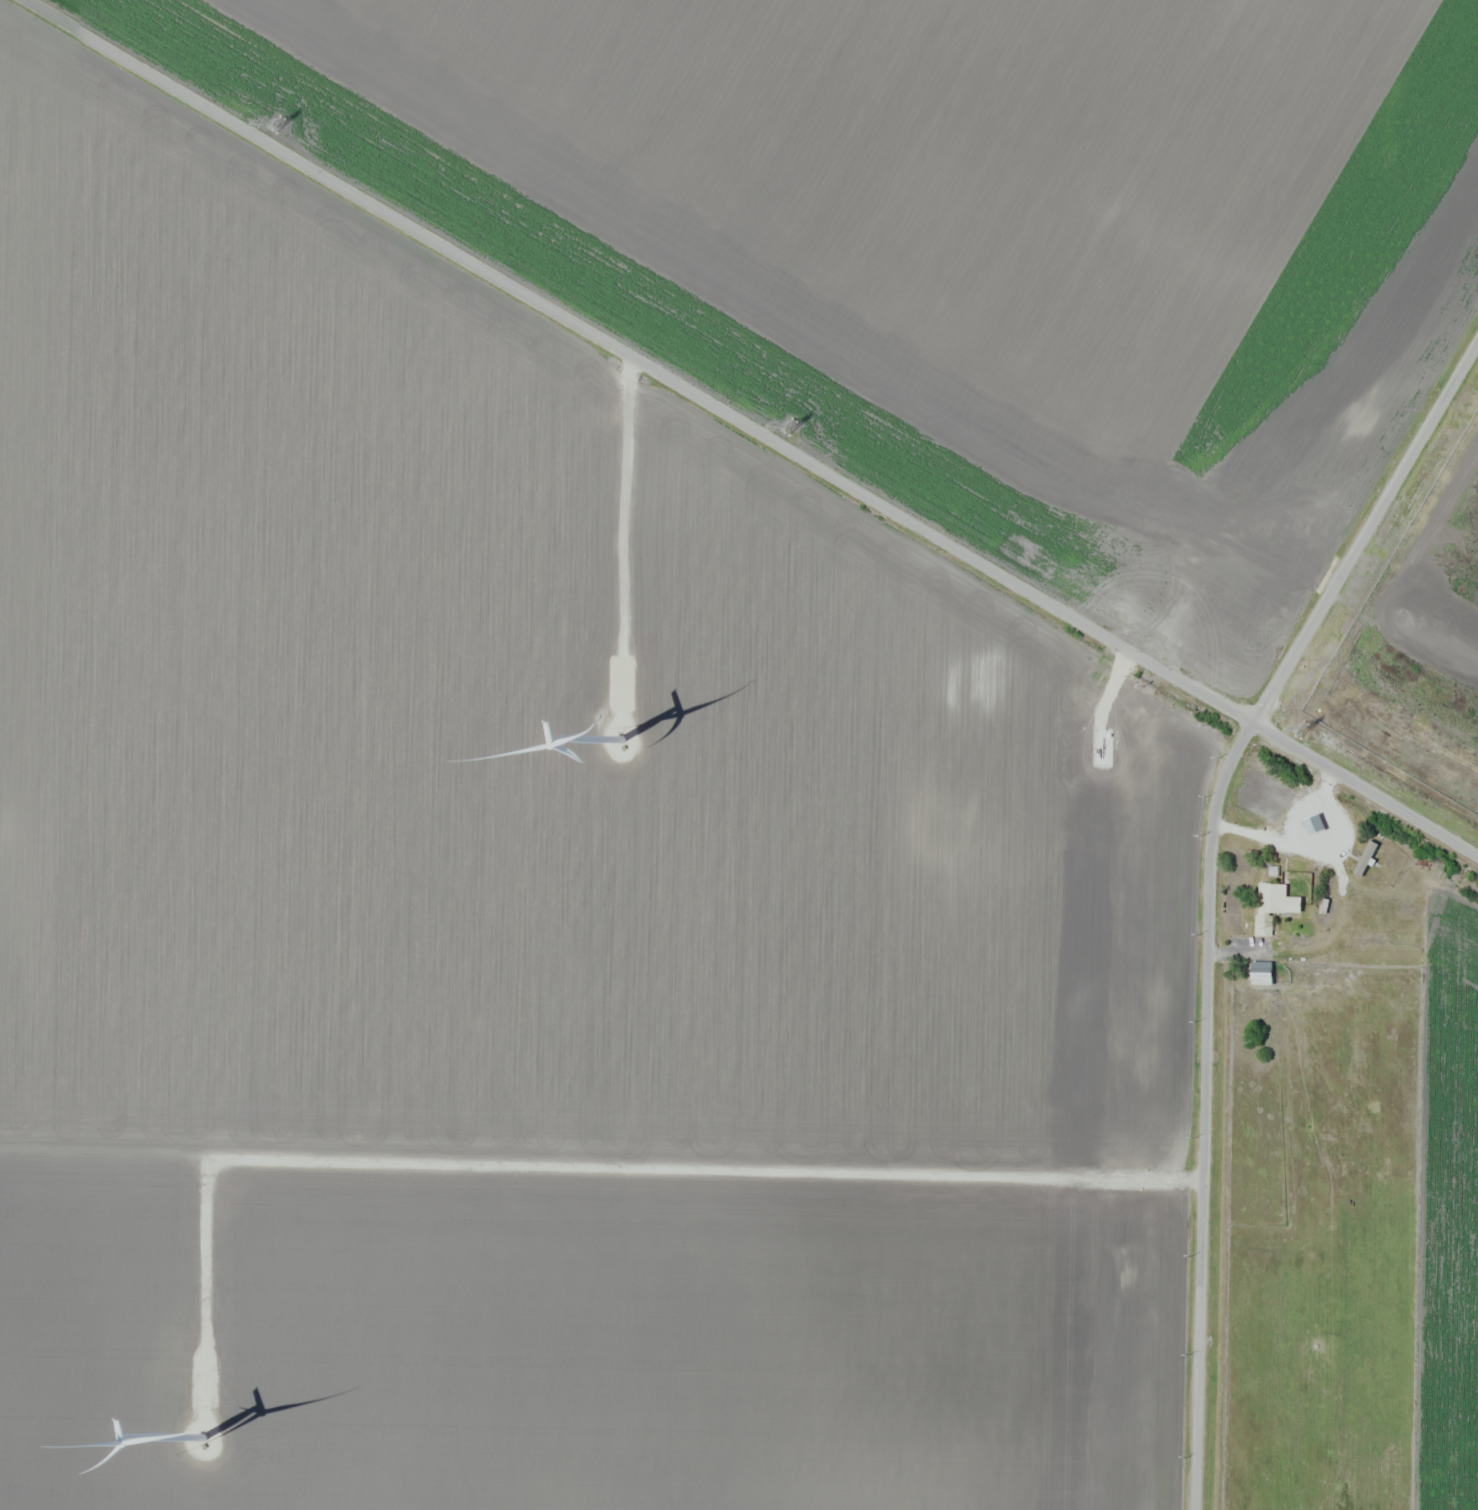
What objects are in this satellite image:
power tower: (276, 124)
power tower: (791, 424)
road: (750, 425)
road: (625, 534)
power tower: (1297, 727)
wind turbine: (628, 731)
building: (1308, 825)
building: (1366, 859)
road: (1209, 887)
building: (1276, 907)
building: (1261, 972)
building: (1373, 1111)
road: (581, 1168)
wind turbine: (193, 1425)

